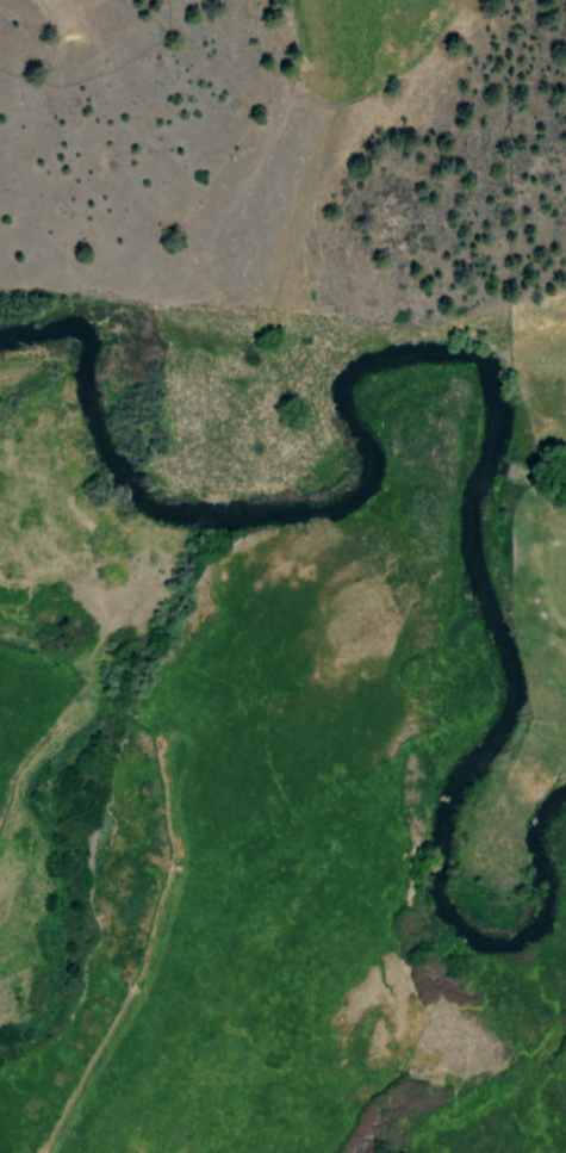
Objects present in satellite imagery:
river: (80, 423)
river: (354, 459)
river: (473, 758)

